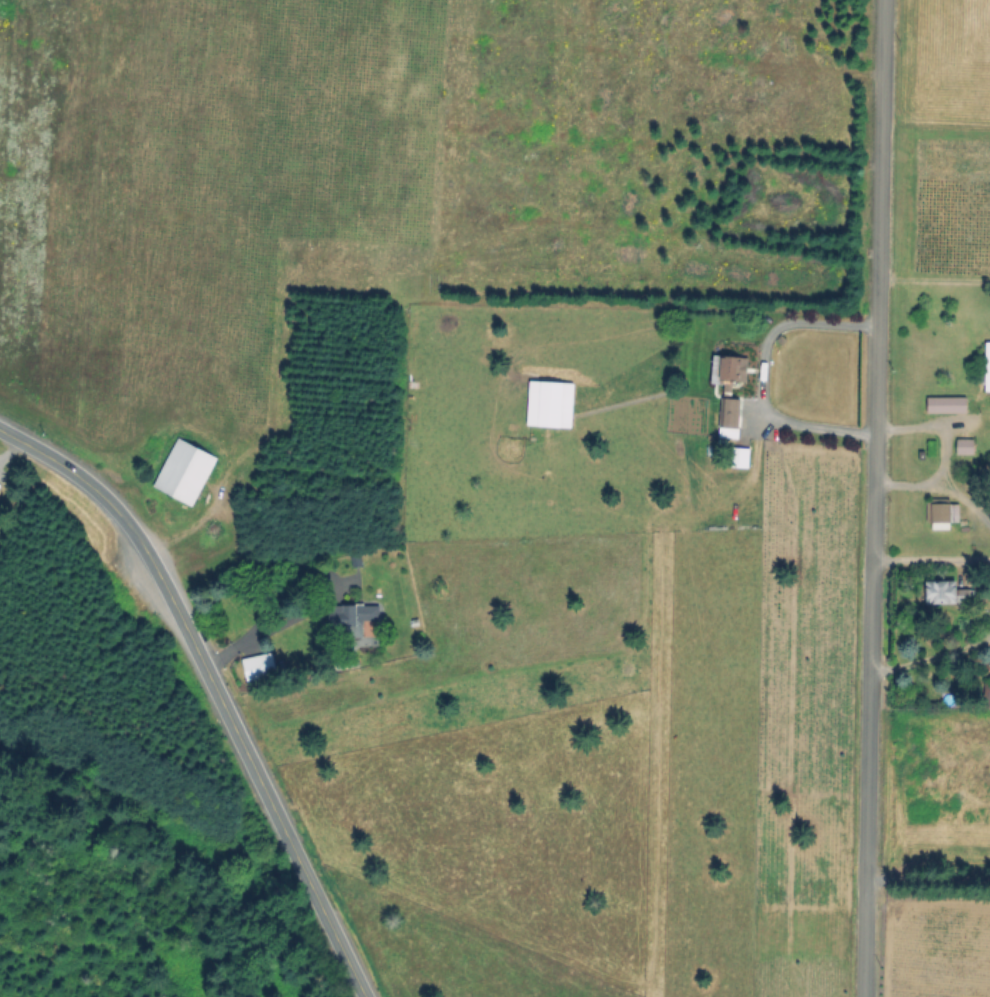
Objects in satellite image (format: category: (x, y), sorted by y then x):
road: (935, 277)
building: (988, 367)
road: (761, 371)
building: (728, 393)
building: (551, 404)
building: (947, 405)
building: (966, 446)
road: (944, 448)
building: (739, 457)
building: (183, 468)
road: (875, 498)
building: (942, 512)
road: (931, 560)
building: (357, 561)
building: (943, 592)
building: (349, 614)
road: (269, 622)
building: (261, 659)
road: (932, 659)
building: (258, 670)
road: (215, 686)
building: (988, 692)
road: (929, 874)

